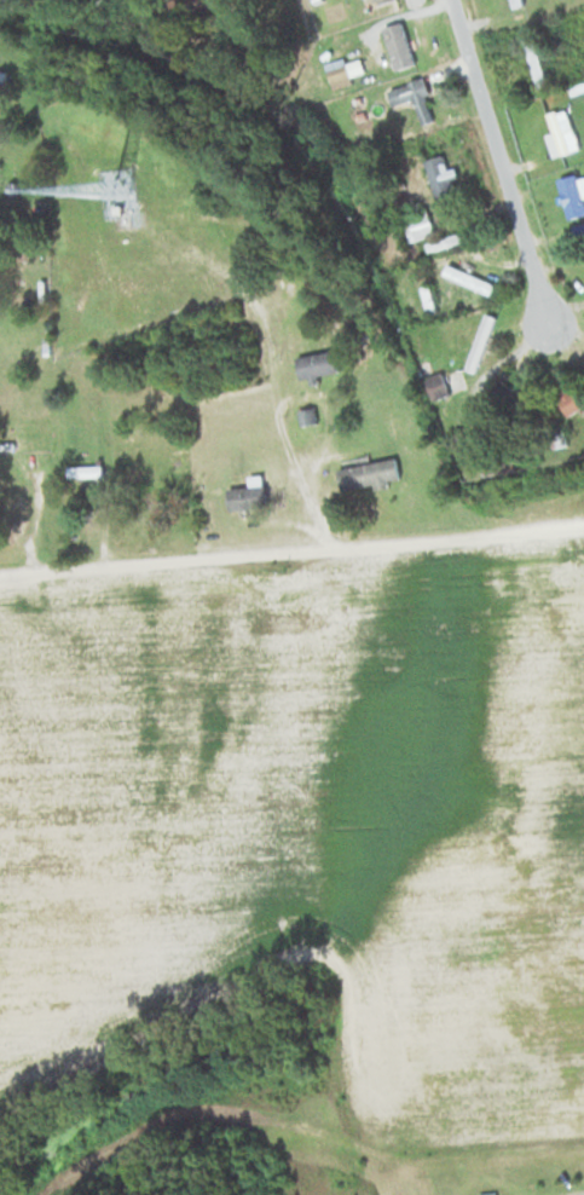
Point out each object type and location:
building: (377, 0)
building: (6, 4)
building: (398, 44)
building: (533, 59)
building: (0, 71)
building: (336, 71)
building: (412, 96)
building: (557, 132)
road: (502, 166)
building: (438, 174)
building: (573, 194)
building: (415, 224)
building: (583, 250)
building: (468, 278)
building: (478, 337)
building: (317, 362)
building: (435, 383)
building: (571, 400)
building: (557, 433)
building: (10, 441)
road: (285, 451)
building: (368, 473)
building: (245, 496)
building: (11, 502)
road: (291, 547)

